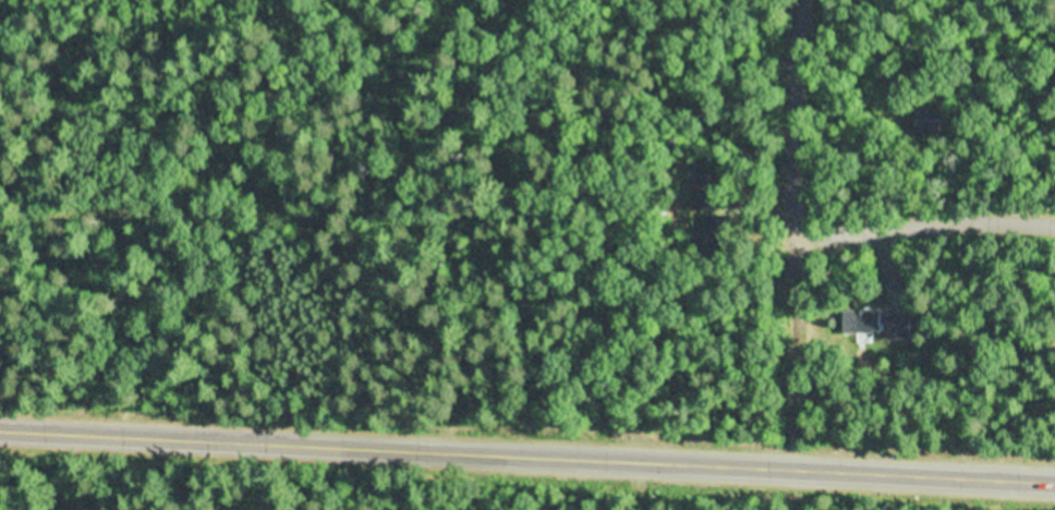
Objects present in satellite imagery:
building: (939, 81)
road: (799, 118)
building: (927, 120)
building: (704, 194)
building: (708, 229)
road: (926, 229)
building: (862, 320)
building: (898, 327)
road: (798, 354)
building: (859, 384)
road: (527, 454)

